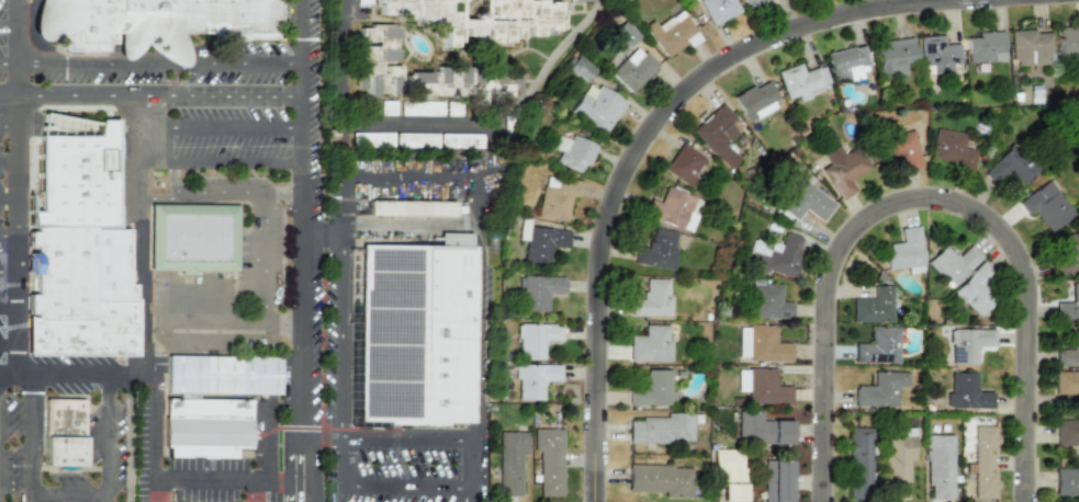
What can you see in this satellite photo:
building: (363, 1)
building: (577, 1)
building: (751, 2)
building: (717, 10)
road: (347, 12)
road: (15, 13)
building: (479, 18)
road: (8, 26)
building: (156, 27)
building: (625, 33)
building: (671, 33)
building: (1067, 42)
building: (986, 46)
building: (1029, 47)
building: (936, 55)
building: (893, 56)
building: (376, 60)
road: (14, 61)
road: (7, 64)
building: (845, 64)
road: (159, 65)
building: (631, 68)
building: (578, 69)
building: (800, 80)
building: (463, 83)
road: (151, 99)
building: (754, 100)
building: (386, 107)
building: (419, 107)
building: (452, 109)
building: (596, 109)
road: (454, 123)
road: (9, 125)
road: (223, 129)
building: (718, 134)
building: (416, 139)
road: (640, 140)
building: (903, 149)
building: (949, 149)
building: (572, 151)
road: (9, 162)
road: (223, 163)
building: (683, 164)
building: (1009, 166)
building: (842, 169)
road: (412, 174)
road: (223, 194)
road: (158, 195)
building: (557, 196)
road: (8, 201)
road: (914, 202)
building: (807, 203)
building: (1045, 205)
building: (411, 207)
building: (674, 208)
parking lot: (2, 232)
road: (9, 235)
building: (79, 238)
building: (542, 242)
building: (194, 243)
building: (657, 249)
road: (18, 250)
building: (903, 251)
building: (1067, 251)
building: (775, 254)
building: (952, 263)
road: (9, 267)
road: (267, 275)
building: (975, 288)
building: (538, 290)
building: (652, 299)
building: (767, 301)
building: (1068, 305)
building: (873, 306)
road: (142, 308)
road: (9, 312)
road: (205, 320)
road: (340, 336)
building: (416, 338)
building: (535, 339)
building: (741, 342)
road: (220, 343)
building: (650, 343)
road: (9, 344)
building: (766, 344)
building: (968, 344)
building: (877, 345)
building: (1069, 352)
road: (304, 356)
road: (479, 357)
building: (533, 379)
building: (1067, 385)
building: (761, 386)
building: (653, 389)
building: (879, 389)
building: (966, 391)
building: (214, 408)
building: (661, 429)
building: (761, 429)
building: (1067, 431)
road: (27, 438)
road: (110, 438)
building: (61, 440)
road: (390, 440)
building: (548, 459)
building: (509, 461)
building: (858, 461)
building: (898, 461)
building: (982, 461)
building: (727, 464)
building: (937, 465)
building: (659, 479)
building: (775, 480)
building: (1066, 481)
road: (255, 490)
road: (304, 490)
road: (151, 491)
building: (731, 491)
road: (68, 494)

